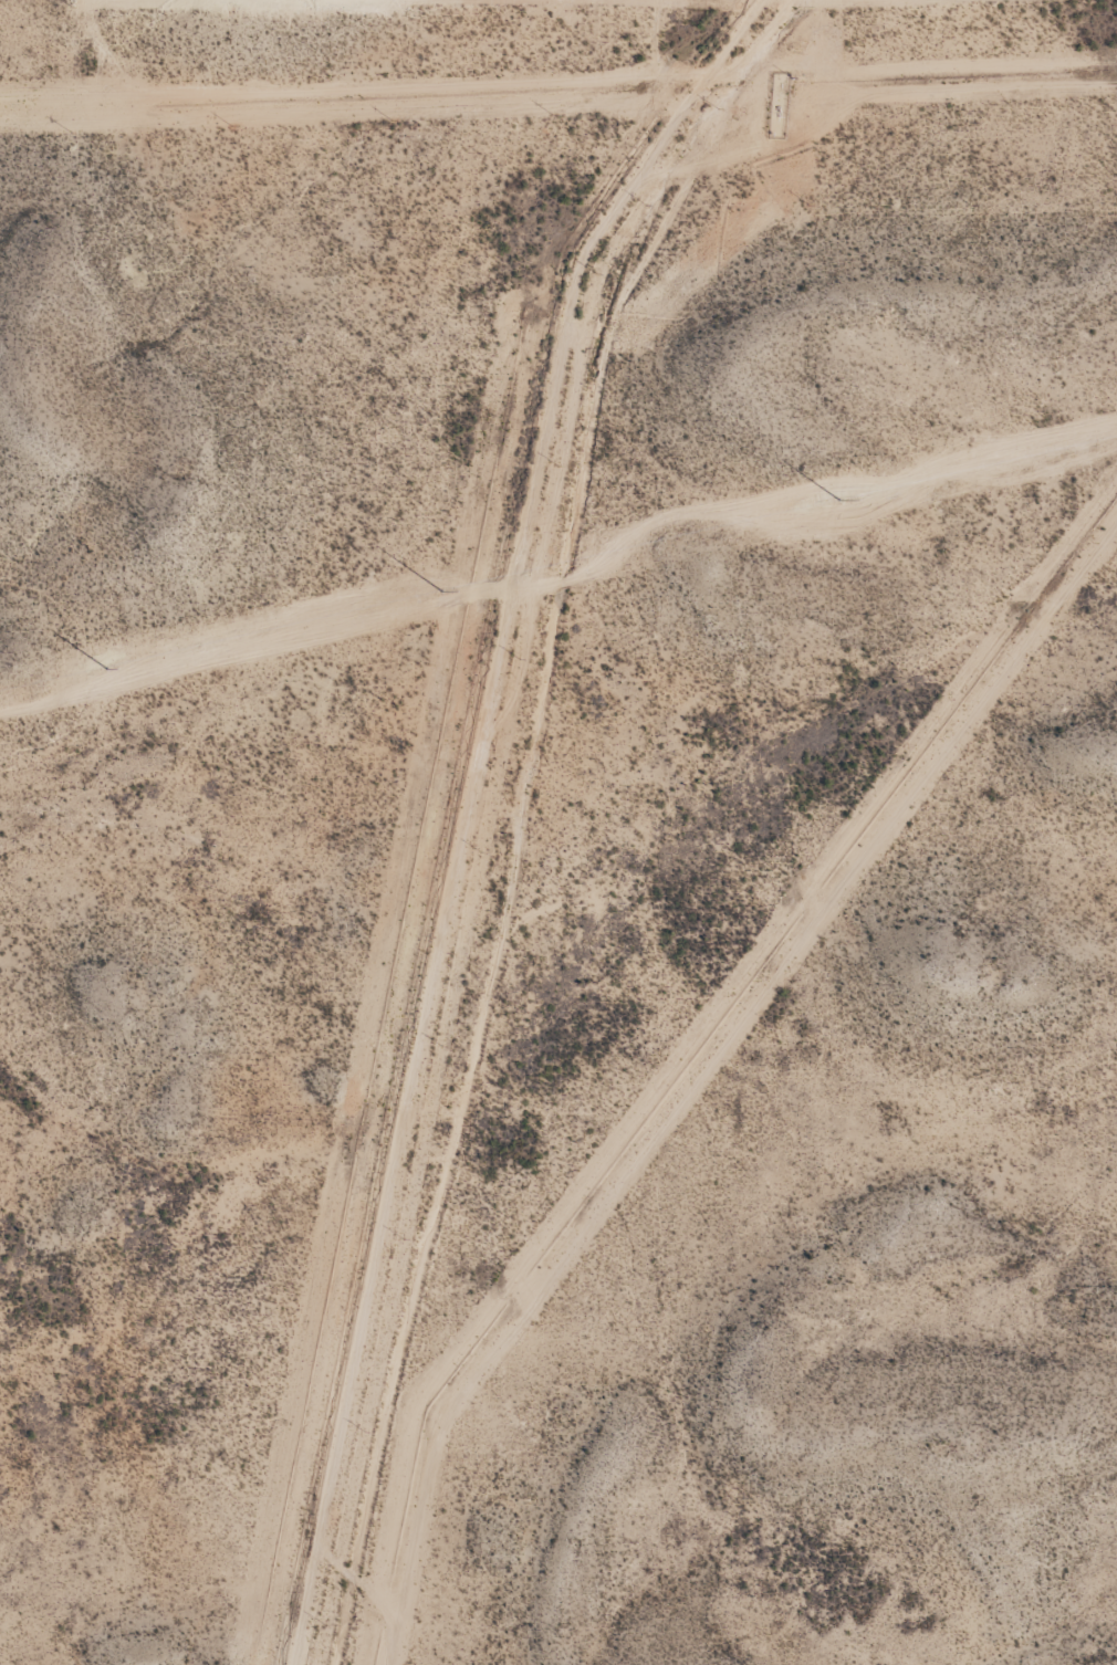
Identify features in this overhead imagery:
power tower: (841, 503)
power tower: (442, 594)
power tower: (109, 670)
road: (500, 806)

